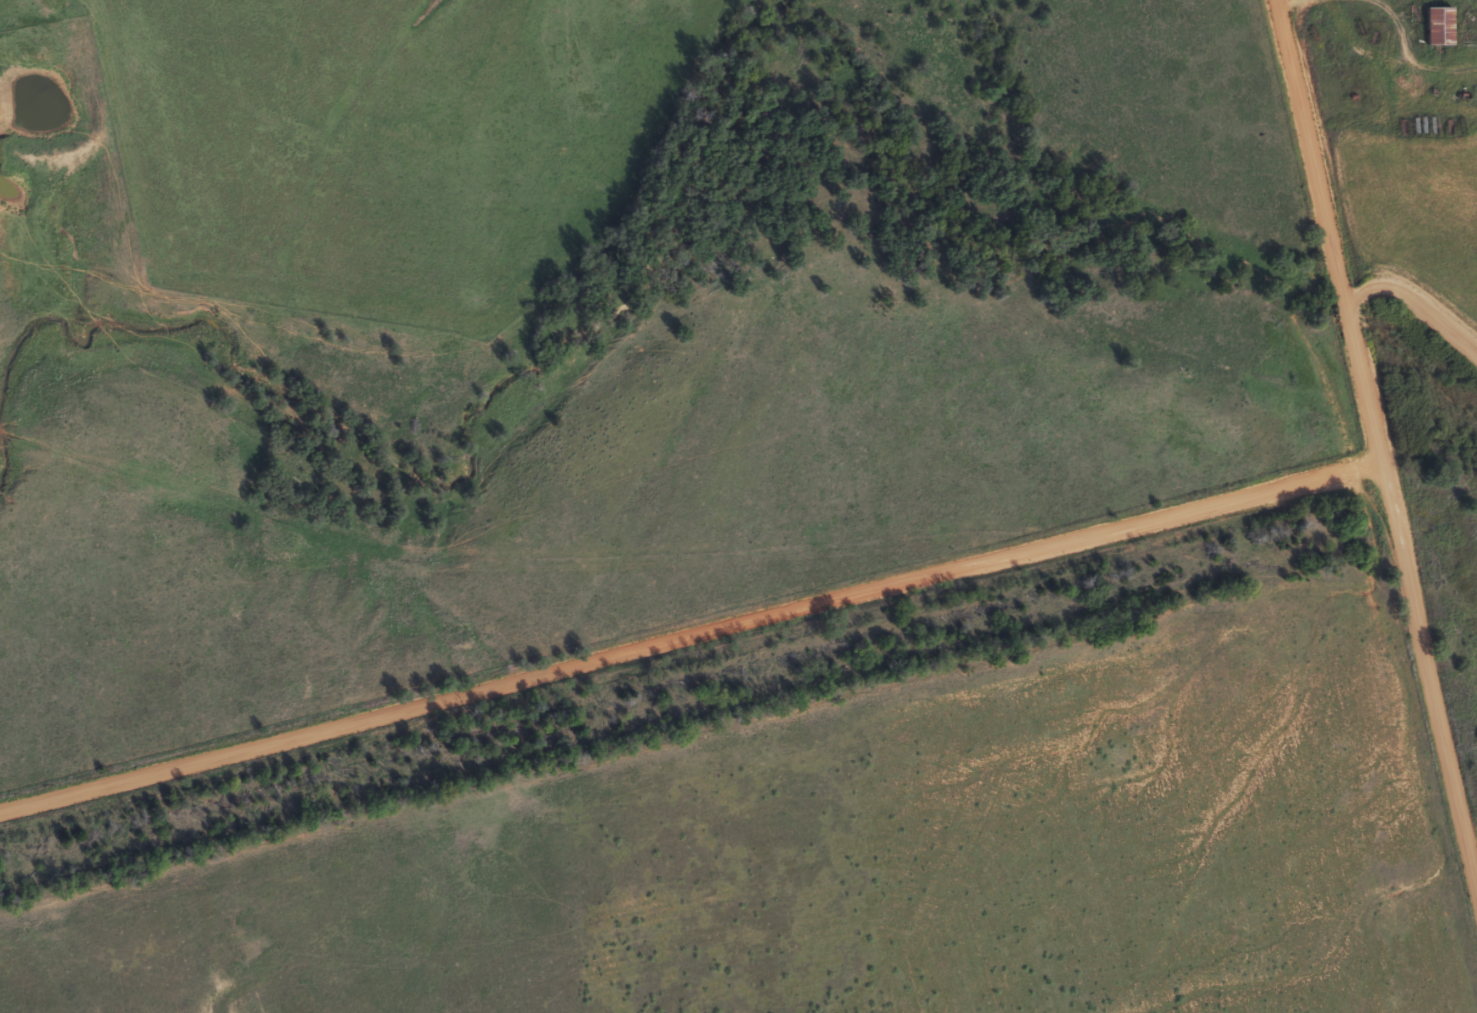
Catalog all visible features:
building: (1440, 18)
road: (1414, 296)
road: (1372, 416)
road: (691, 627)

